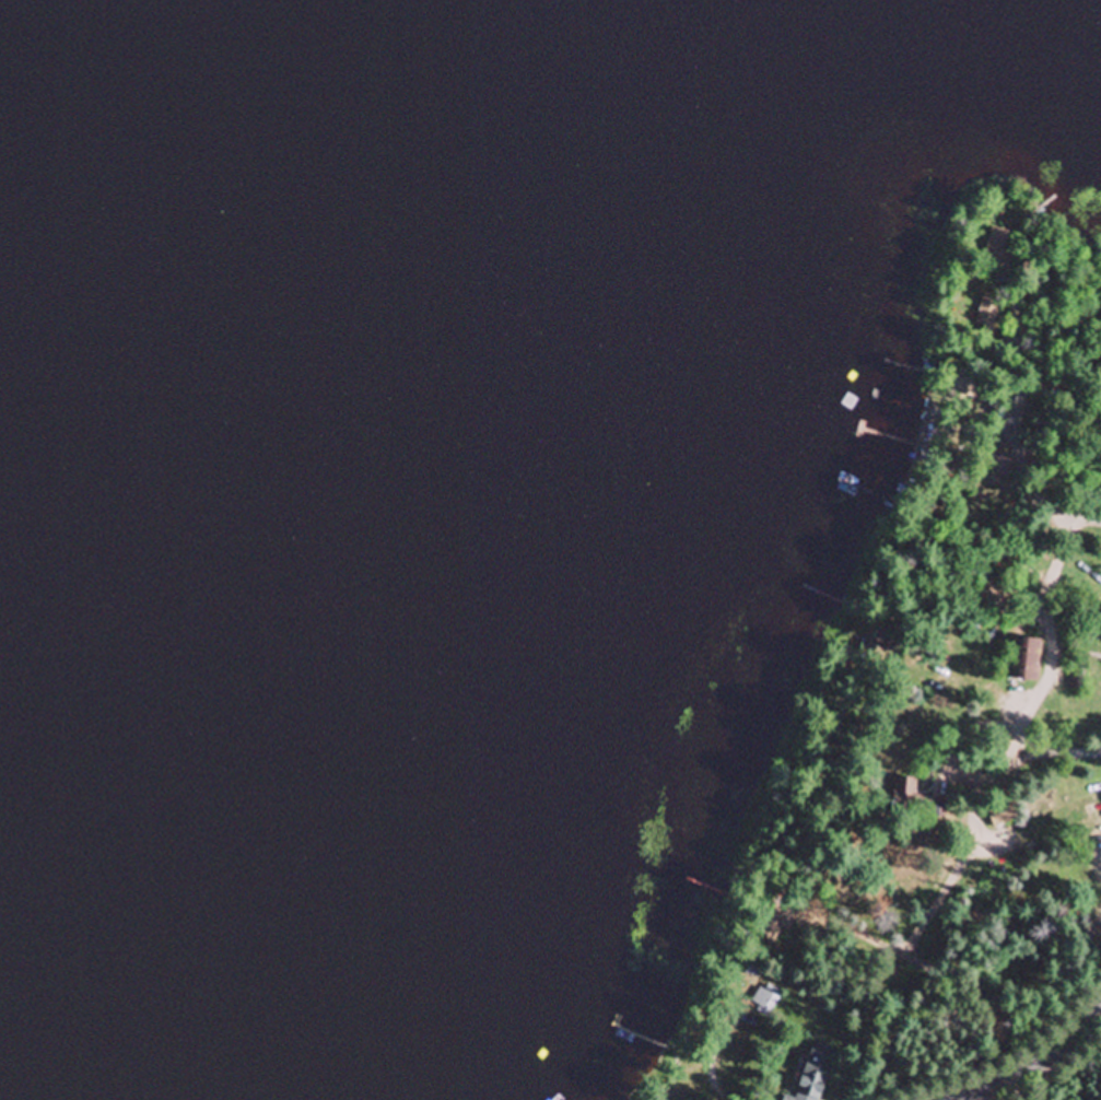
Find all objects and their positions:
road: (1022, 416)
building: (1028, 658)
road: (1059, 757)
building: (915, 797)
building: (1000, 815)
road: (991, 816)
building: (766, 998)
building: (816, 1072)
road: (993, 1077)
building: (787, 1099)

